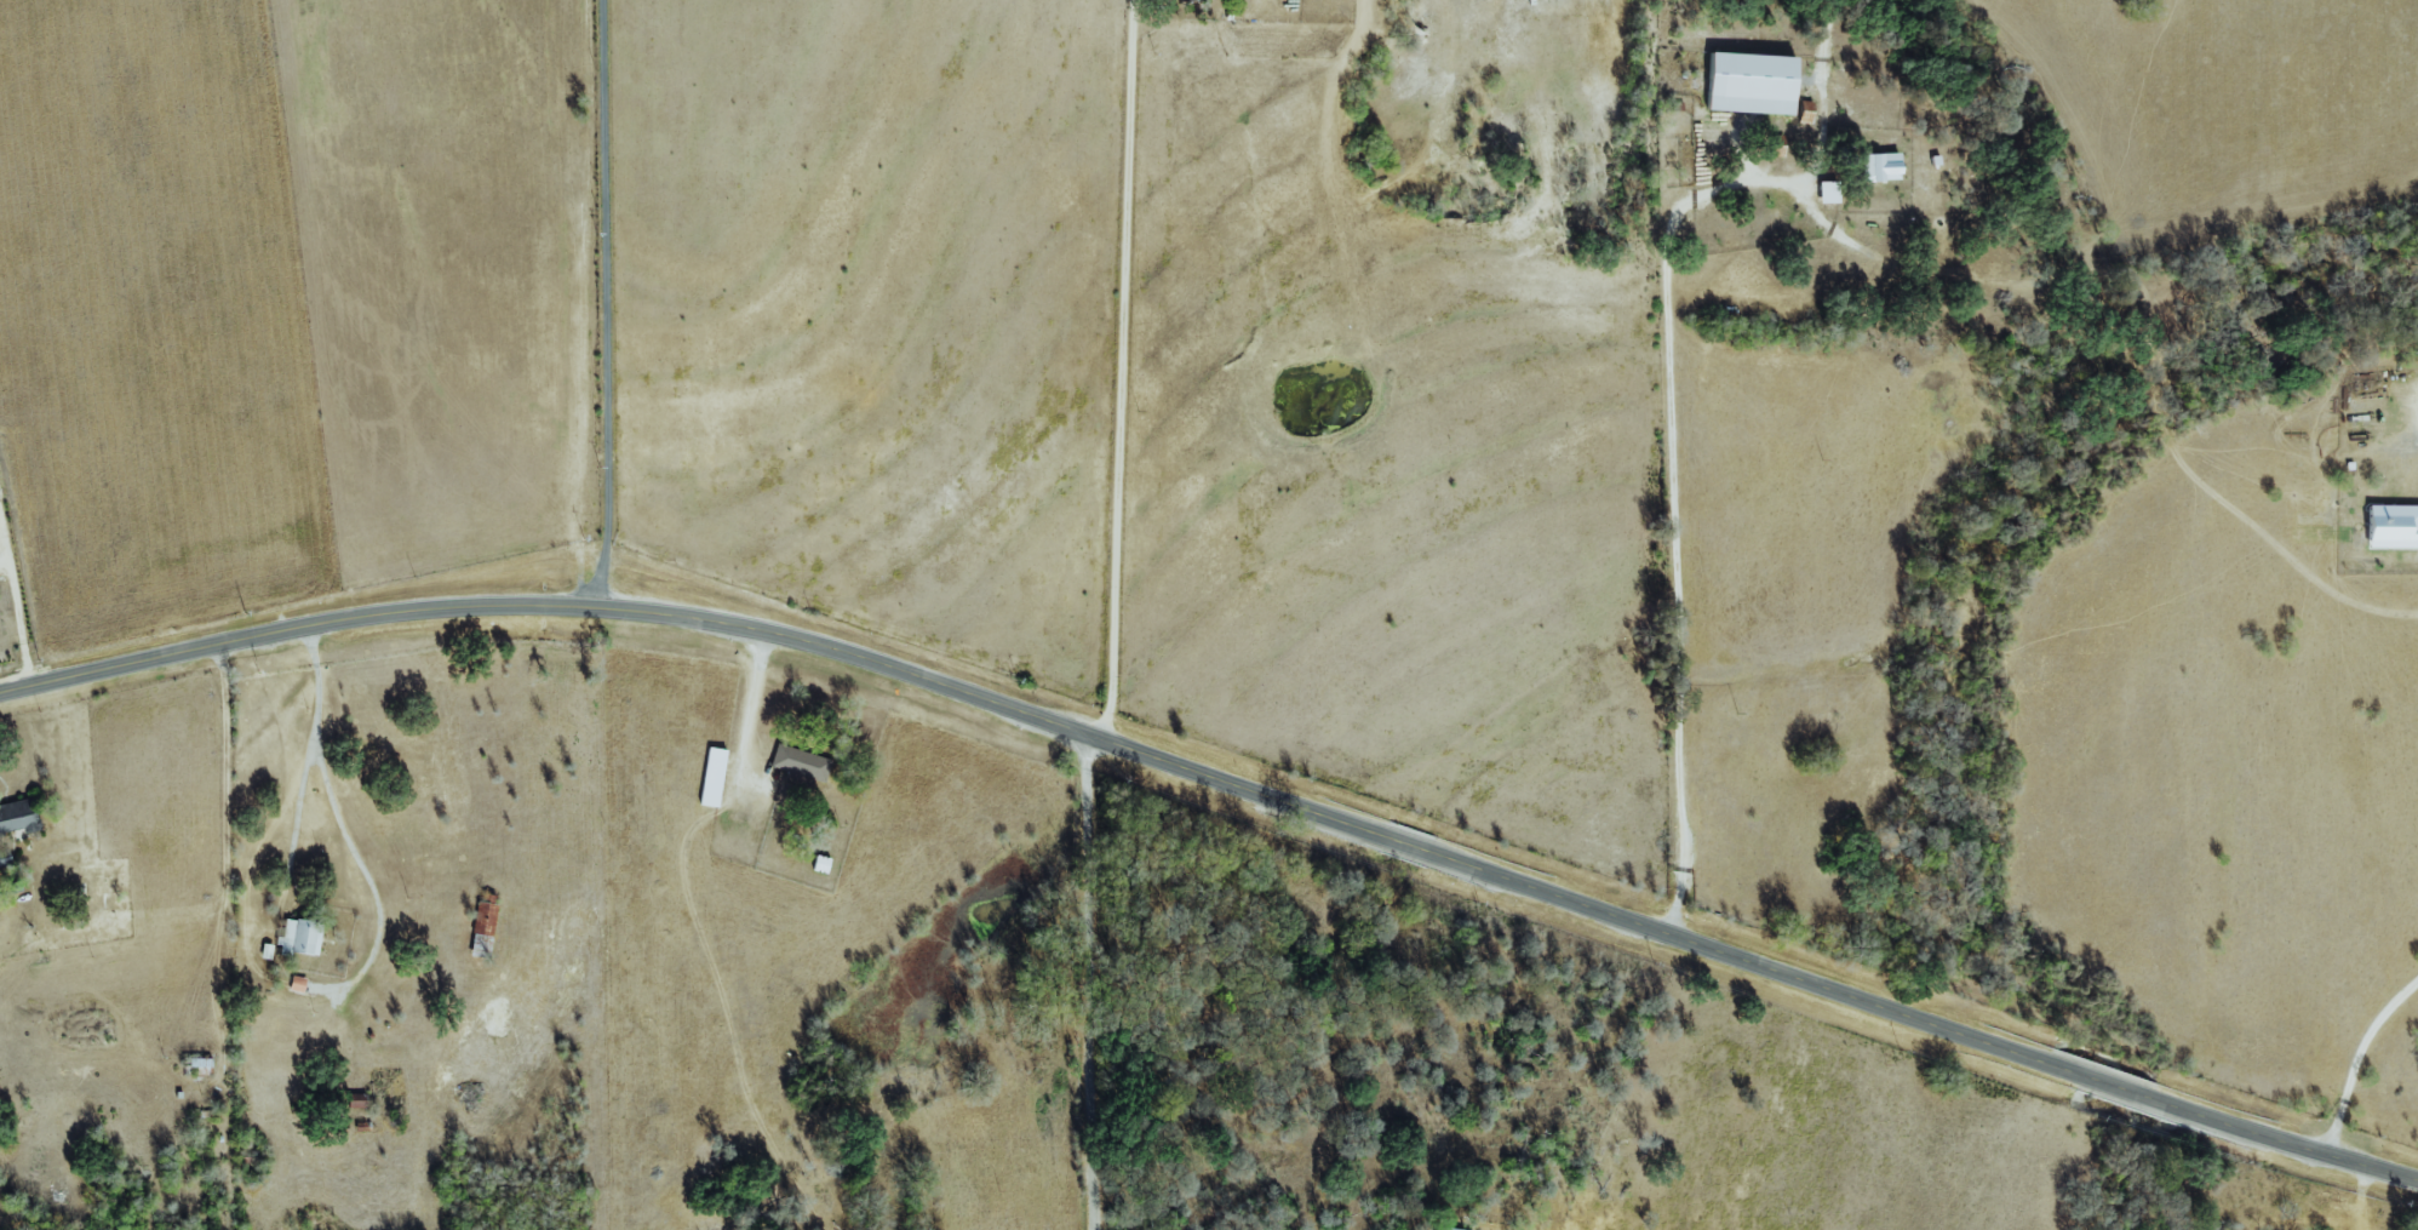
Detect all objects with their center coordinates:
building: (1753, 82)
building: (1883, 166)
building: (1829, 191)
crop: (441, 273)
road: (603, 305)
crop: (153, 326)
road: (1119, 372)
road: (1669, 507)
building: (2393, 525)
road: (17, 608)
road: (757, 631)
road: (745, 717)
road: (308, 737)
building: (801, 762)
building: (16, 816)
building: (5, 858)
road: (176, 927)
building: (300, 937)
building: (267, 950)
road: (1091, 982)
building: (298, 984)
road: (1950, 1031)
road: (2355, 1057)
building: (1439, 1229)

